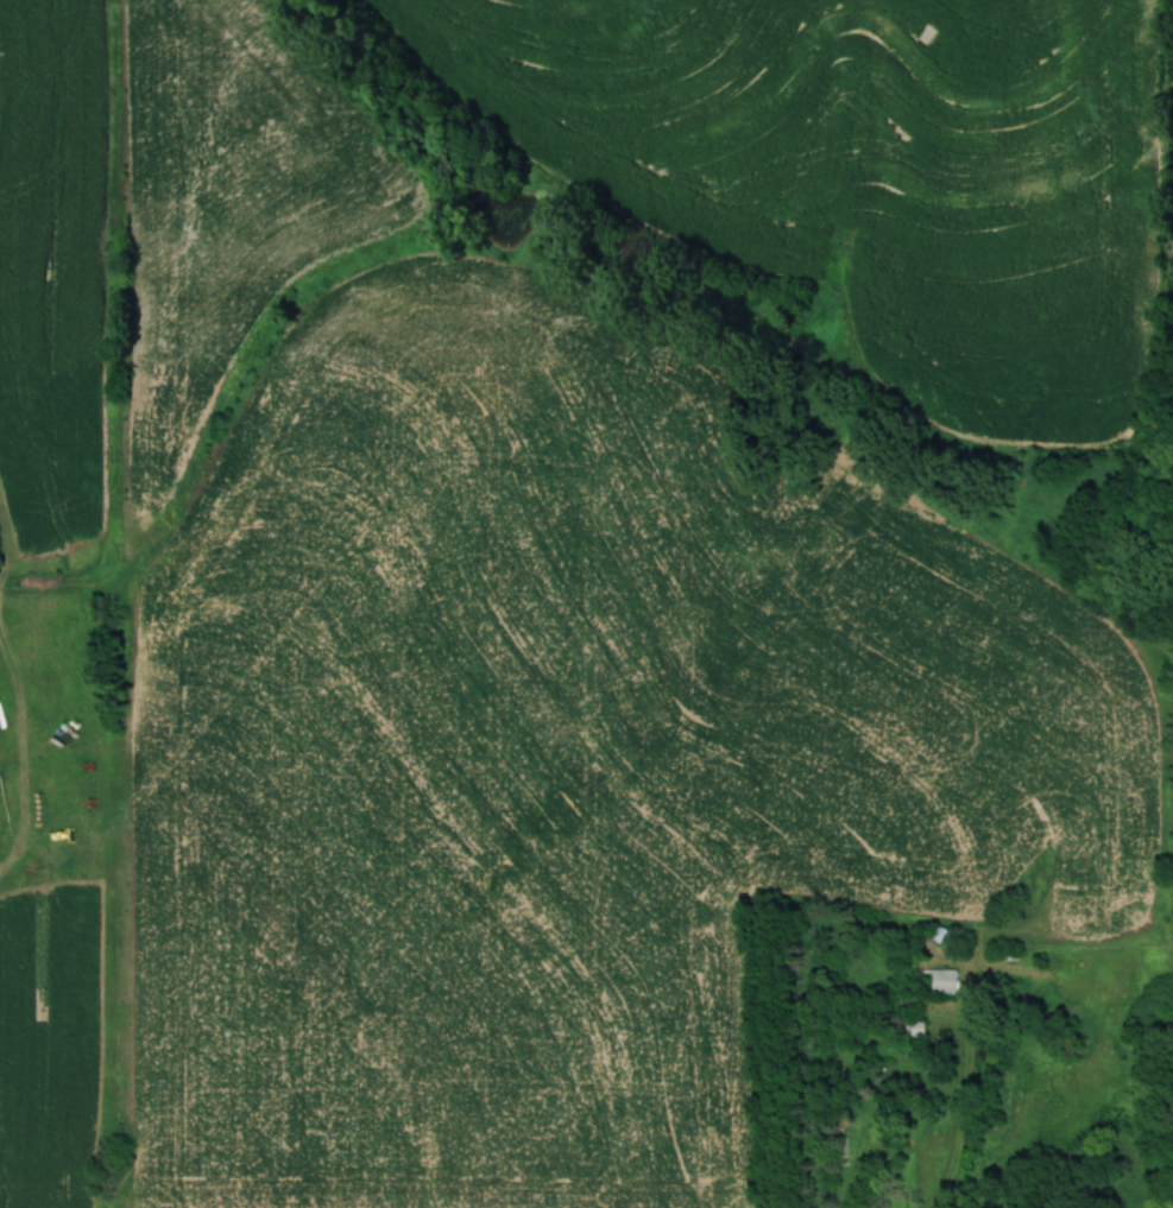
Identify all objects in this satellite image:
building: (935, 981)
building: (909, 1029)
road: (108, 1081)

